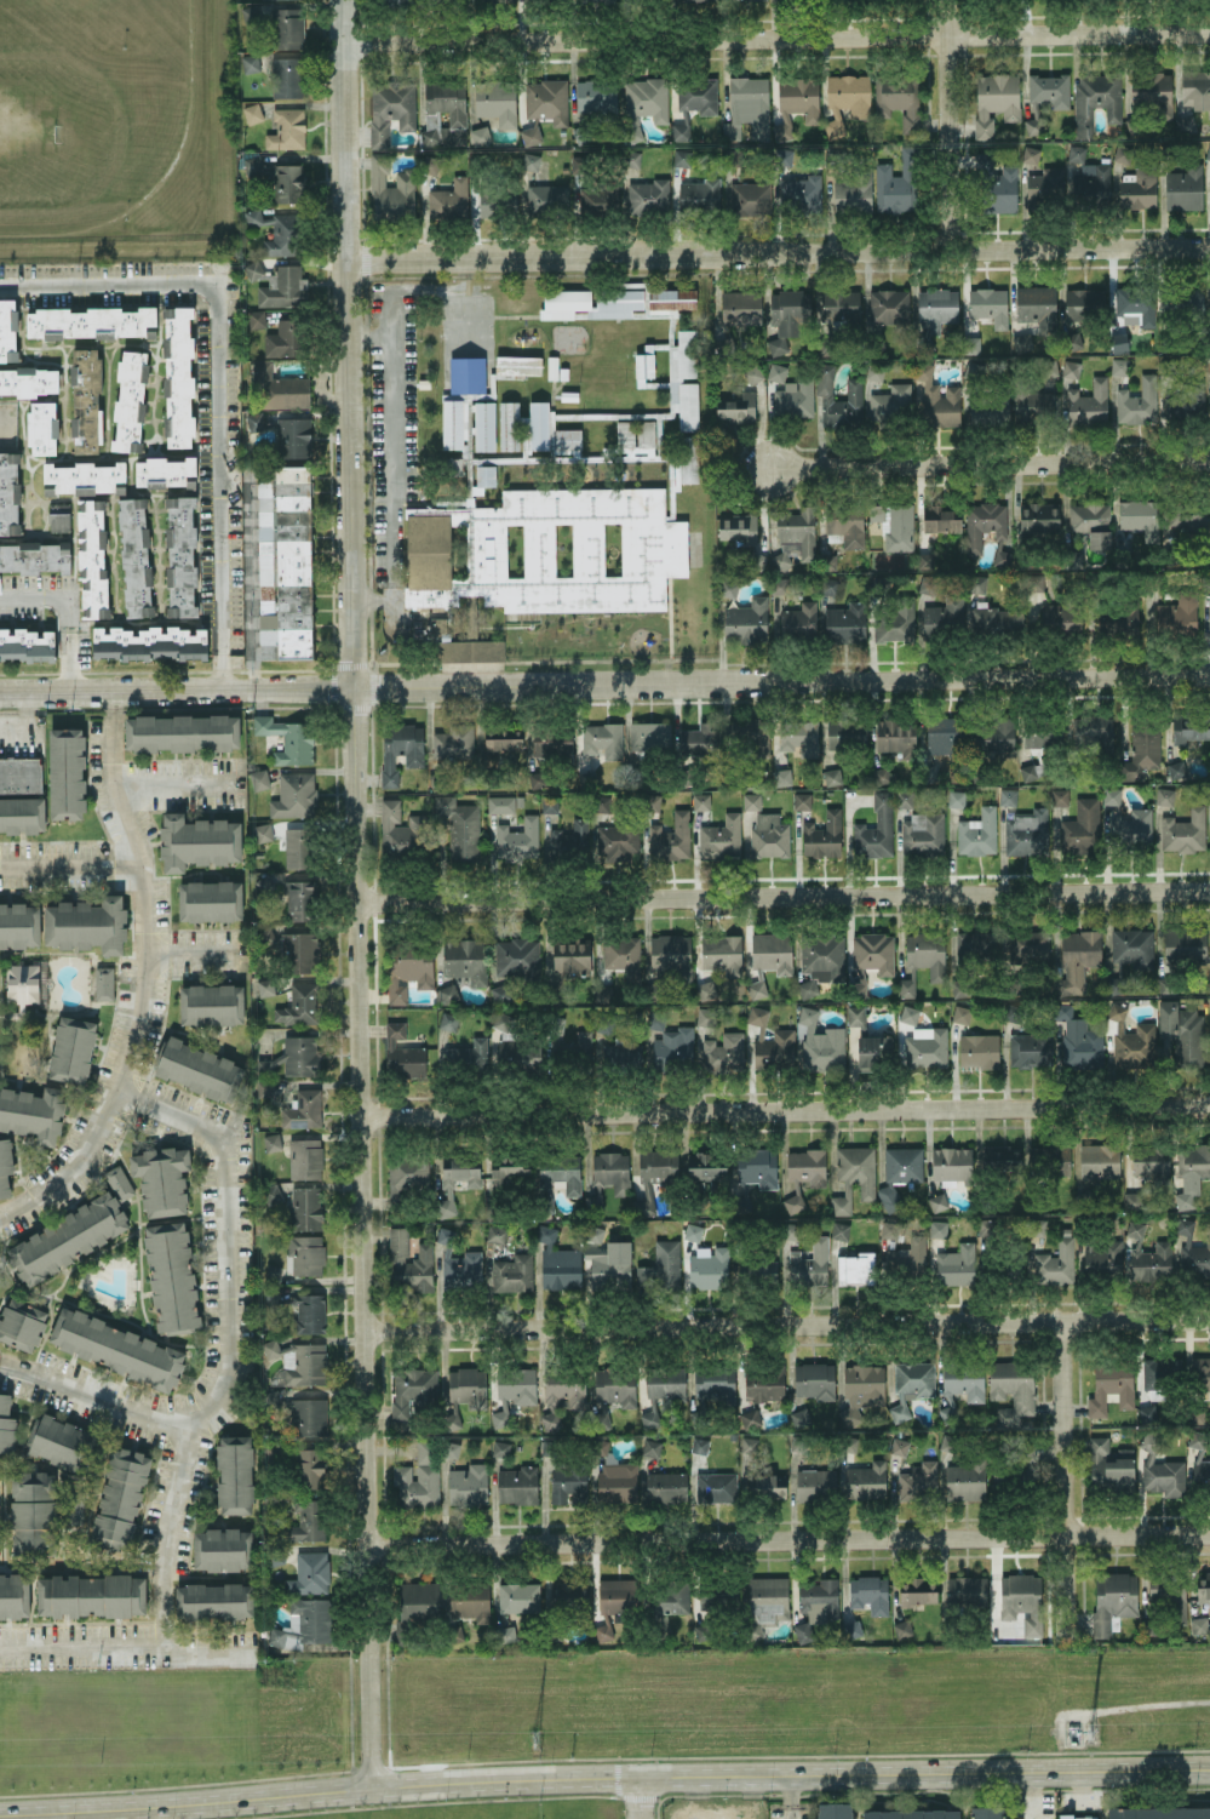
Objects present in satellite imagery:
building: (397, 1)
park: (81, 22)
building: (288, 27)
road: (773, 36)
building: (250, 63)
building: (287, 76)
building: (1195, 88)
building: (1152, 91)
building: (698, 95)
building: (596, 96)
building: (1045, 96)
building: (547, 99)
building: (847, 99)
building: (899, 99)
building: (447, 101)
building: (497, 101)
building: (994, 101)
building: (1095, 101)
building: (644, 103)
building: (796, 103)
building: (746, 104)
building: (391, 109)
building: (252, 113)
building: (1188, 124)
road: (952, 125)
building: (287, 128)
building: (679, 131)
park: (28, 132)
building: (441, 132)
building: (480, 135)
building: (531, 135)
building: (1208, 151)
building: (1076, 153)
building: (1031, 154)
building: (782, 155)
building: (733, 156)
building: (682, 158)
building: (531, 161)
building: (430, 164)
building: (577, 164)
building: (252, 165)
road: (164, 176)
building: (287, 183)
building: (1091, 183)
building: (896, 184)
building: (997, 187)
building: (1045, 187)
building: (1137, 188)
building: (1185, 188)
building: (391, 191)
building: (801, 191)
building: (854, 191)
building: (648, 196)
building: (699, 196)
building: (546, 198)
building: (449, 199)
building: (596, 199)
building: (750, 199)
building: (488, 201)
building: (509, 202)
building: (279, 231)
road: (775, 252)
building: (259, 273)
building: (285, 287)
building: (1182, 297)
building: (617, 302)
building: (1083, 303)
building: (1134, 303)
building: (837, 305)
building: (889, 305)
building: (990, 305)
building: (741, 307)
building: (1037, 307)
building: (934, 314)
building: (785, 318)
building: (257, 319)
building: (92, 322)
building: (8, 328)
road: (366, 332)
building: (283, 338)
building: (1072, 341)
road: (342, 342)
building: (1021, 343)
building: (970, 344)
building: (518, 364)
building: (1119, 366)
building: (1209, 366)
building: (1071, 368)
building: (874, 370)
building: (974, 370)
building: (776, 371)
building: (752, 372)
building: (178, 376)
road: (219, 376)
building: (466, 376)
building: (684, 378)
building: (28, 381)
building: (825, 385)
building: (279, 388)
building: (795, 397)
building: (937, 397)
building: (85, 400)
building: (1186, 400)
building: (130, 401)
building: (891, 402)
building: (1137, 402)
building: (1088, 404)
building: (1033, 406)
building: (736, 408)
building: (979, 408)
building: (256, 421)
parking lot: (391, 421)
building: (454, 424)
building: (510, 424)
building: (538, 424)
building: (484, 425)
building: (42, 428)
building: (294, 436)
building: (568, 437)
road: (392, 453)
building: (688, 458)
road: (991, 463)
building: (165, 471)
building: (484, 475)
building: (10, 493)
building: (1039, 516)
building: (1139, 516)
building: (940, 519)
building: (58, 521)
building: (1188, 521)
building: (1091, 522)
building: (88, 524)
building: (845, 524)
building: (894, 524)
building: (984, 524)
building: (738, 527)
building: (795, 537)
building: (544, 551)
building: (180, 555)
building: (35, 556)
building: (136, 556)
building: (286, 557)
building: (1003, 557)
building: (924, 560)
building: (756, 561)
building: (827, 561)
building: (1205, 579)
building: (977, 583)
building: (1033, 583)
building: (779, 584)
building: (928, 584)
road: (251, 585)
building: (828, 585)
building: (729, 587)
road: (371, 599)
road: (68, 608)
building: (1177, 613)
building: (945, 617)
building: (1060, 618)
building: (798, 619)
building: (1118, 619)
building: (746, 620)
building: (996, 620)
building: (845, 623)
building: (894, 623)
building: (149, 642)
building: (268, 643)
building: (27, 645)
building: (453, 645)
road: (780, 679)
road: (174, 690)
road: (27, 728)
building: (1099, 728)
building: (1189, 730)
building: (182, 732)
building: (847, 733)
building: (752, 734)
building: (945, 734)
building: (1042, 734)
building: (649, 736)
building: (993, 736)
building: (799, 737)
building: (896, 737)
building: (287, 738)
building: (602, 739)
building: (700, 739)
building: (552, 740)
building: (453, 742)
building: (503, 744)
building: (400, 749)
building: (1142, 749)
building: (1176, 770)
building: (1031, 771)
building: (67, 773)
building: (782, 776)
building: (832, 776)
building: (881, 776)
road: (176, 778)
building: (259, 778)
building: (538, 779)
building: (21, 795)
building: (294, 795)
building: (1008, 795)
building: (1112, 795)
building: (1060, 796)
building: (1165, 796)
building: (956, 797)
building: (1209, 797)
building: (904, 799)
building: (751, 800)
building: (802, 800)
building: (653, 801)
building: (700, 801)
building: (500, 803)
building: (549, 803)
building: (602, 803)
building: (459, 826)
building: (1134, 826)
building: (1080, 828)
building: (874, 829)
building: (401, 830)
building: (263, 831)
building: (1185, 831)
building: (580, 833)
building: (977, 833)
building: (1026, 833)
building: (923, 834)
building: (769, 835)
building: (822, 835)
building: (671, 837)
building: (721, 837)
building: (517, 839)
building: (197, 841)
building: (557, 842)
building: (618, 842)
building: (297, 847)
road: (70, 864)
road: (785, 894)
building: (299, 899)
building: (210, 900)
building: (19, 925)
building: (86, 925)
building: (1185, 944)
building: (975, 946)
building: (1028, 946)
building: (1132, 946)
building: (620, 950)
road: (191, 951)
building: (300, 951)
building: (772, 951)
building: (873, 951)
building: (722, 954)
building: (517, 956)
building: (572, 956)
building: (671, 956)
building: (465, 959)
building: (1078, 959)
building: (922, 960)
building: (827, 965)
building: (408, 971)
road: (142, 982)
building: (22, 983)
building: (104, 983)
building: (1114, 985)
building: (265, 986)
building: (757, 989)
building: (706, 990)
building: (448, 993)
building: (501, 993)
building: (603, 993)
building: (211, 1003)
building: (299, 1005)
building: (1014, 1012)
building: (908, 1013)
building: (962, 1013)
building: (706, 1016)
building: (757, 1016)
building: (855, 1016)
building: (656, 1019)
building: (448, 1020)
building: (503, 1020)
building: (604, 1024)
building: (1182, 1031)
building: (1078, 1040)
building: (1131, 1041)
building: (819, 1042)
building: (572, 1046)
building: (925, 1047)
building: (673, 1048)
building: (774, 1048)
building: (71, 1049)
building: (979, 1049)
building: (1030, 1049)
building: (402, 1052)
building: (723, 1052)
building: (874, 1052)
building: (520, 1053)
building: (621, 1053)
building: (468, 1056)
building: (293, 1057)
building: (199, 1069)
building: (303, 1109)
road: (785, 1111)
building: (33, 1112)
building: (271, 1142)
building: (305, 1157)
building: (1004, 1157)
building: (1049, 1159)
building: (1099, 1160)
building: (1151, 1163)
building: (658, 1165)
building: (706, 1165)
building: (952, 1165)
building: (757, 1166)
building: (807, 1166)
building: (5, 1167)
building: (858, 1168)
building: (562, 1171)
building: (407, 1172)
building: (510, 1172)
building: (899, 1172)
building: (1191, 1172)
building: (608, 1177)
building: (161, 1179)
building: (119, 1182)
building: (455, 1183)
building: (271, 1192)
building: (1083, 1196)
building: (644, 1200)
building: (937, 1201)
building: (792, 1203)
building: (305, 1207)
building: (1036, 1226)
building: (839, 1229)
building: (889, 1229)
building: (937, 1229)
building: (791, 1230)
building: (692, 1231)
building: (495, 1234)
building: (593, 1234)
road: (363, 1235)
building: (65, 1239)
building: (1192, 1252)
building: (306, 1254)
building: (908, 1255)
building: (1102, 1255)
building: (1148, 1255)
building: (612, 1260)
building: (408, 1262)
building: (558, 1263)
building: (809, 1263)
building: (1055, 1263)
building: (459, 1265)
building: (956, 1265)
building: (709, 1268)
building: (855, 1268)
building: (660, 1269)
building: (512, 1272)
building: (171, 1276)
building: (310, 1314)
road: (787, 1322)
building: (22, 1323)
road: (228, 1345)
building: (117, 1349)
building: (270, 1349)
building: (304, 1363)
building: (1162, 1371)
building: (1200, 1373)
building: (814, 1379)
building: (666, 1382)
building: (713, 1382)
building: (763, 1383)
building: (615, 1385)
building: (911, 1385)
building: (960, 1385)
building: (1111, 1386)
building: (412, 1389)
building: (861, 1389)
building: (1013, 1389)
building: (461, 1390)
building: (514, 1391)
road: (91, 1392)
building: (270, 1398)
building: (1147, 1413)
building: (601, 1414)
building: (309, 1417)
building: (799, 1417)
building: (750, 1418)
building: (649, 1419)
building: (550, 1422)
building: (6, 1424)
building: (732, 1435)
building: (1195, 1438)
building: (61, 1442)
building: (851, 1442)
building: (948, 1442)
building: (749, 1443)
building: (798, 1443)
building: (699, 1445)
building: (899, 1446)
building: (650, 1447)
building: (451, 1448)
building: (500, 1448)
building: (1025, 1459)
building: (1109, 1464)
building: (310, 1468)
building: (1202, 1472)
building: (235, 1474)
building: (1163, 1476)
building: (418, 1478)
building: (965, 1478)
road: (1065, 1478)
building: (866, 1480)
building: (918, 1481)
building: (617, 1482)
building: (815, 1483)
building: (468, 1485)
building: (517, 1485)
building: (568, 1485)
building: (716, 1486)
building: (767, 1486)
building: (666, 1487)
building: (120, 1497)
building: (71, 1509)
building: (33, 1512)
building: (306, 1520)
road: (790, 1538)
building: (223, 1549)
building: (275, 1557)
building: (310, 1573)
building: (1204, 1588)
building: (967, 1590)
building: (917, 1591)
building: (1169, 1592)
building: (868, 1594)
building: (13, 1595)
building: (91, 1595)
building: (569, 1595)
building: (518, 1596)
building: (672, 1596)
building: (709, 1598)
building: (1113, 1598)
building: (214, 1600)
building: (419, 1600)
building: (768, 1600)
building: (819, 1600)
building: (470, 1601)
building: (1022, 1601)
building: (614, 1602)
building: (303, 1623)
building: (1199, 1624)
building: (902, 1628)
building: (853, 1629)
building: (803, 1631)
building: (505, 1634)
road: (126, 1644)
road: (1132, 1704)
power tower: (1093, 1732)
power tower: (533, 1741)
road: (604, 1777)
road: (1031, 1795)
road: (750, 1796)
road: (791, 1796)
road: (641, 1797)
building: (835, 1809)
building: (986, 1812)
building: (1160, 1812)
road: (58, 1814)
building: (911, 1814)
building: (1078, 1817)

